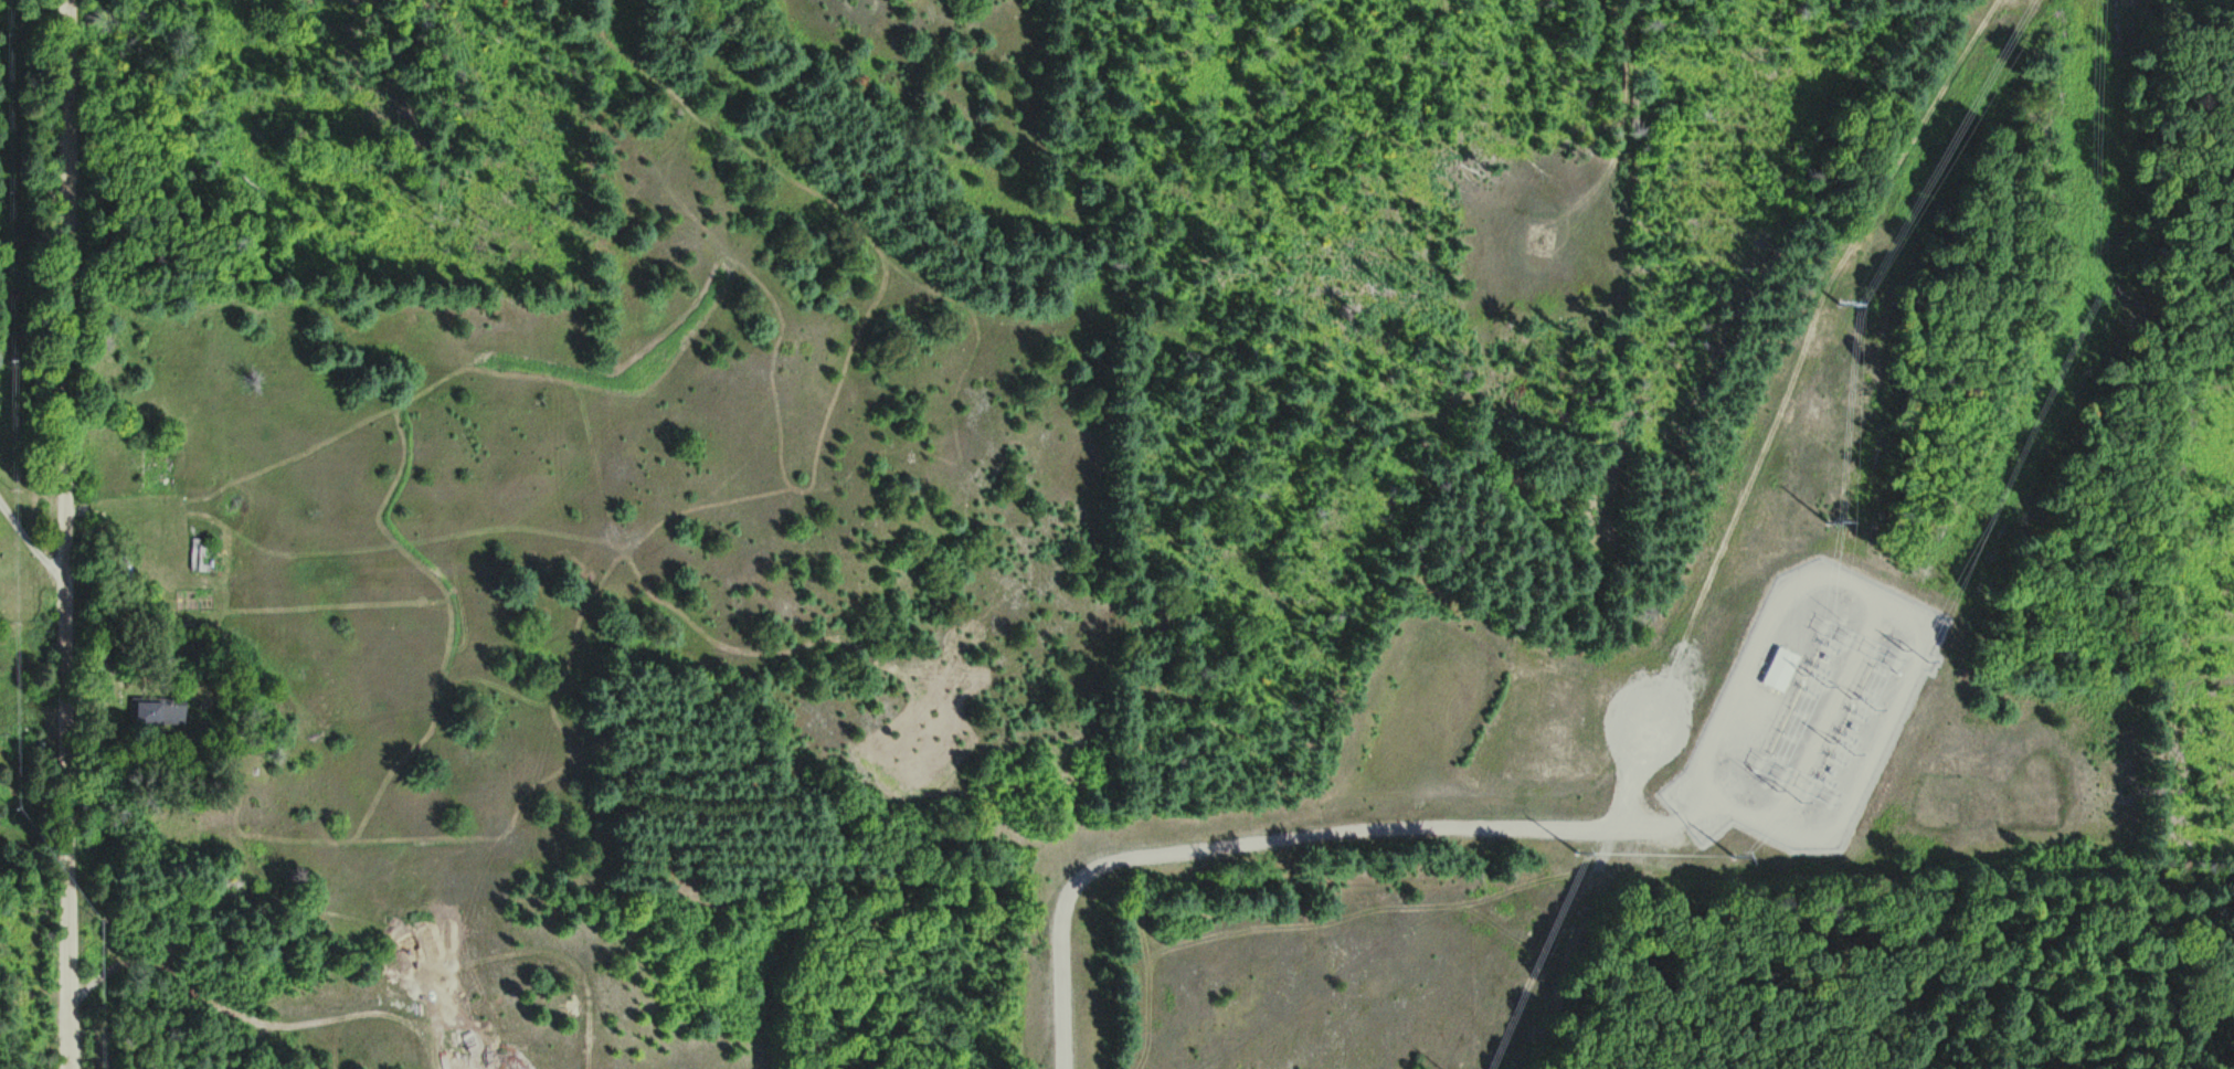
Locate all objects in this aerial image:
power tower: (1843, 300)
power tower: (1831, 520)
road: (84, 534)
building: (204, 554)
building: (127, 569)
building: (1780, 667)
power substation: (1810, 708)
building: (161, 710)
road: (1655, 825)
road: (1306, 835)
power tower: (1577, 853)
power tower: (1732, 855)

